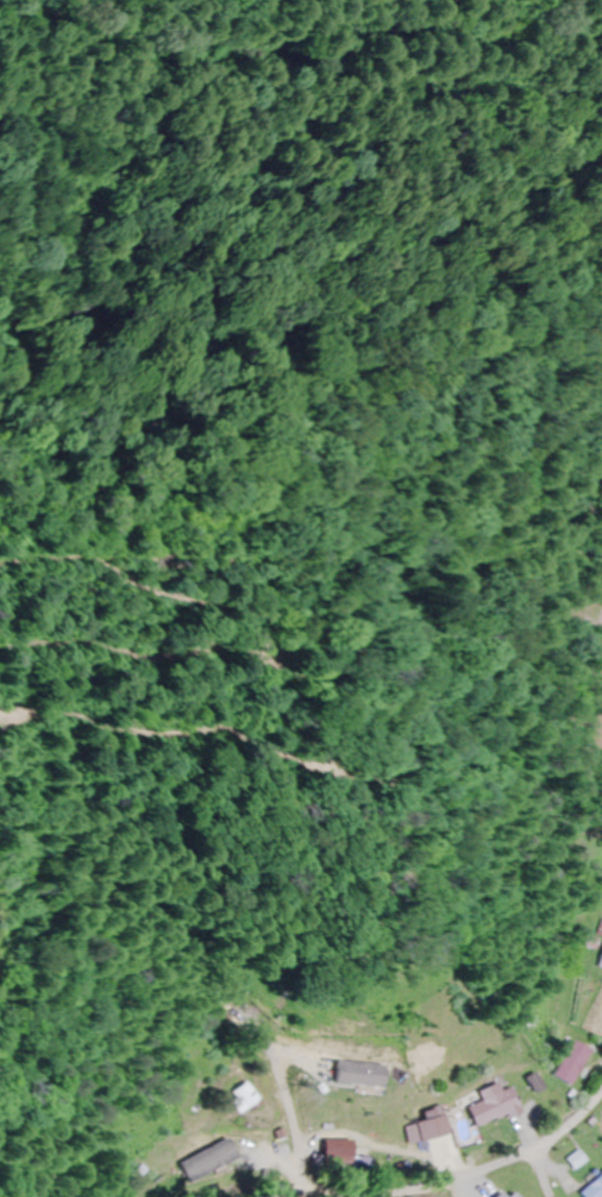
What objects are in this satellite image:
building: (575, 1063)
building: (349, 1074)
building: (228, 1099)
building: (495, 1104)
building: (334, 1154)
road: (488, 1154)
building: (595, 1189)
building: (518, 1195)
building: (506, 1196)

